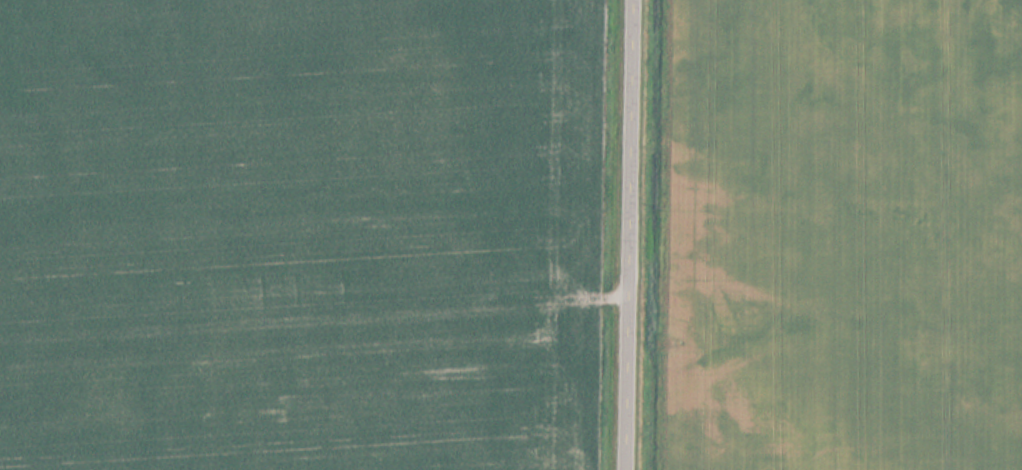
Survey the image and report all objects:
road: (651, 235)

